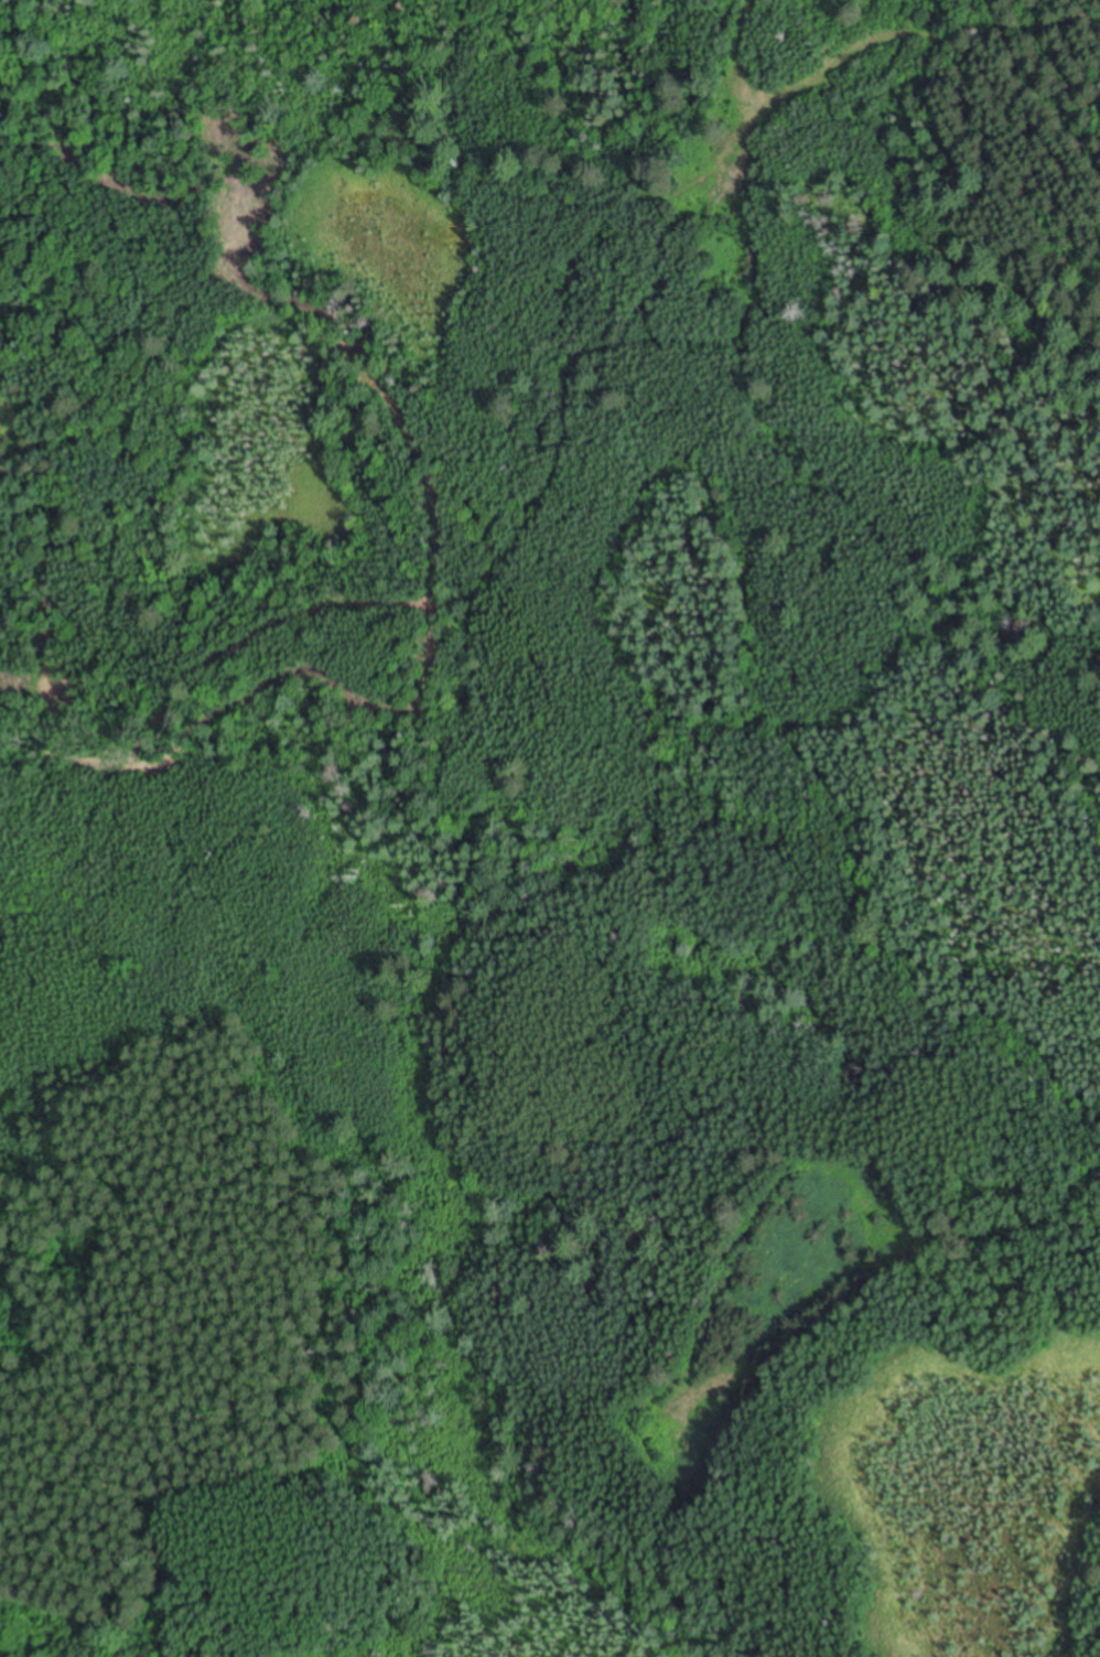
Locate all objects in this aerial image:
building: (1, 198)

